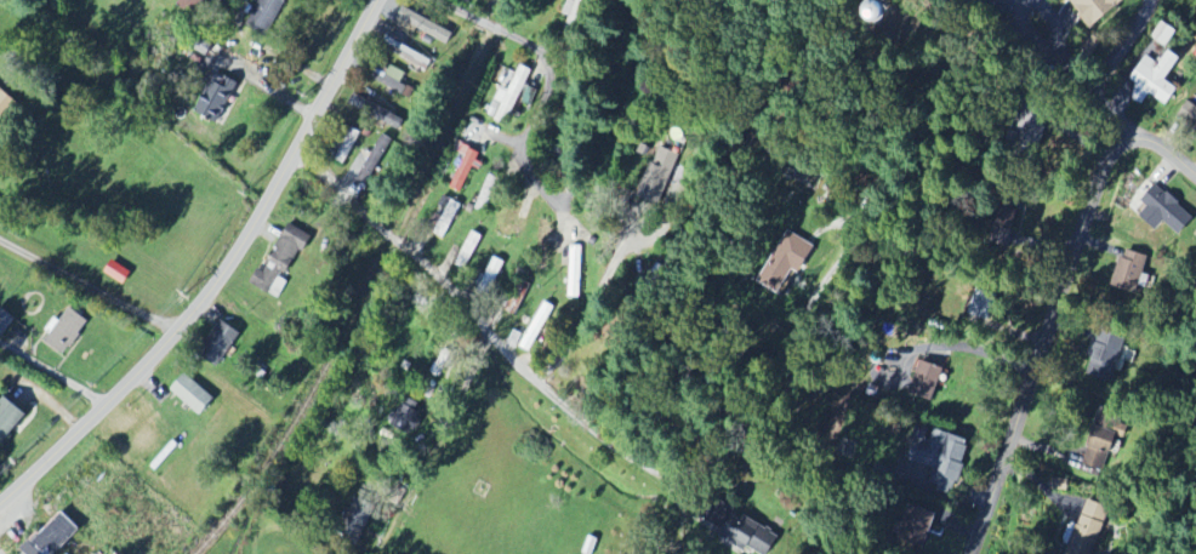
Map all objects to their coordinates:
building: (456, 0)
building: (190, 5)
building: (1099, 8)
building: (899, 12)
building: (267, 16)
road: (1049, 47)
building: (409, 53)
road: (1110, 68)
building: (1155, 79)
road: (1078, 81)
building: (394, 85)
road: (549, 92)
building: (511, 96)
building: (216, 99)
building: (6, 107)
building: (1189, 115)
building: (1031, 131)
building: (374, 160)
building: (461, 169)
building: (657, 176)
building: (486, 193)
building: (1166, 211)
building: (543, 236)
building: (280, 259)
building: (787, 262)
building: (574, 272)
building: (1130, 272)
building: (116, 273)
road: (223, 279)
building: (650, 282)
road: (89, 286)
railway: (368, 289)
building: (983, 304)
road: (591, 305)
road: (1055, 307)
building: (5, 322)
building: (536, 326)
building: (67, 332)
building: (221, 345)
building: (1104, 355)
road: (55, 376)
building: (923, 379)
building: (192, 395)
building: (408, 416)
building: (8, 421)
road: (587, 424)
building: (1101, 447)
building: (939, 455)
building: (716, 514)
building: (357, 520)
building: (917, 524)
building: (1088, 529)
building: (747, 535)
building: (53, 536)
road: (0, 553)

